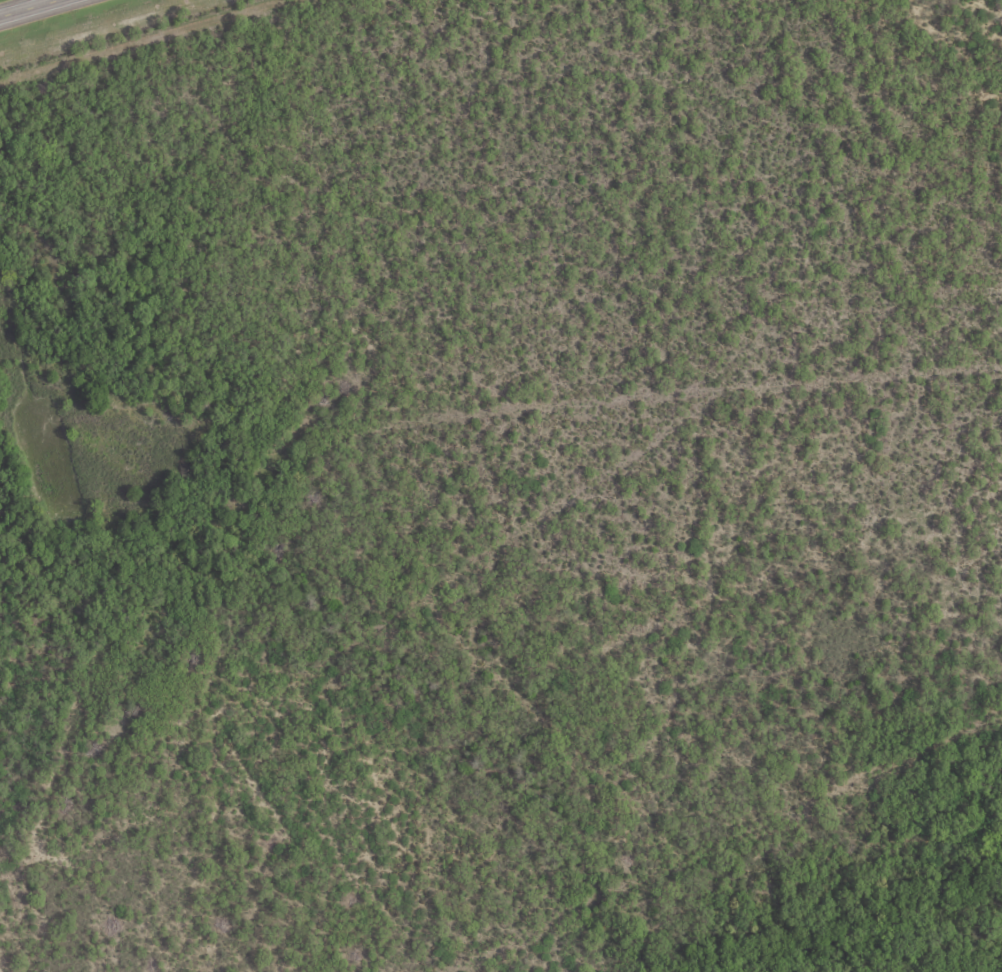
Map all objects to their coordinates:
road: (32, 9)

